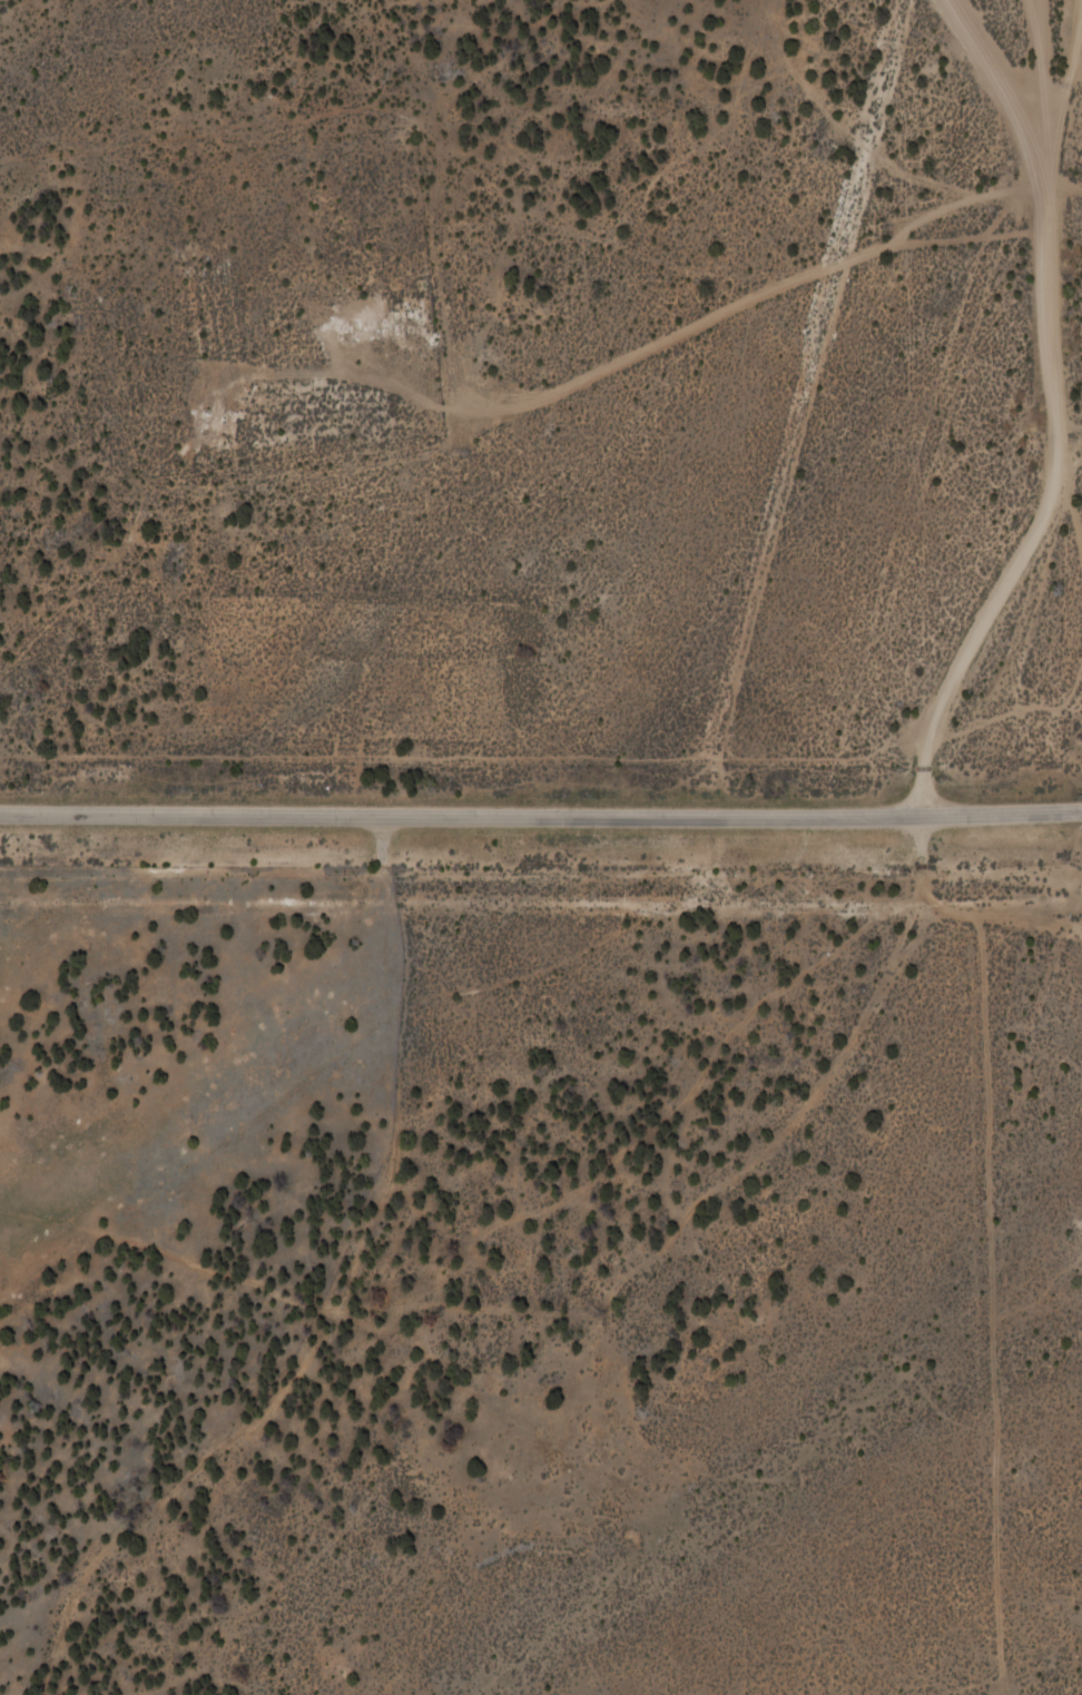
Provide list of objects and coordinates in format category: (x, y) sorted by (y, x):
road: (1064, 180)
park: (278, 296)
road: (651, 347)
road: (1071, 457)
road: (1015, 562)
road: (541, 814)
road: (1001, 916)
road: (47, 1265)
road: (337, 1303)

